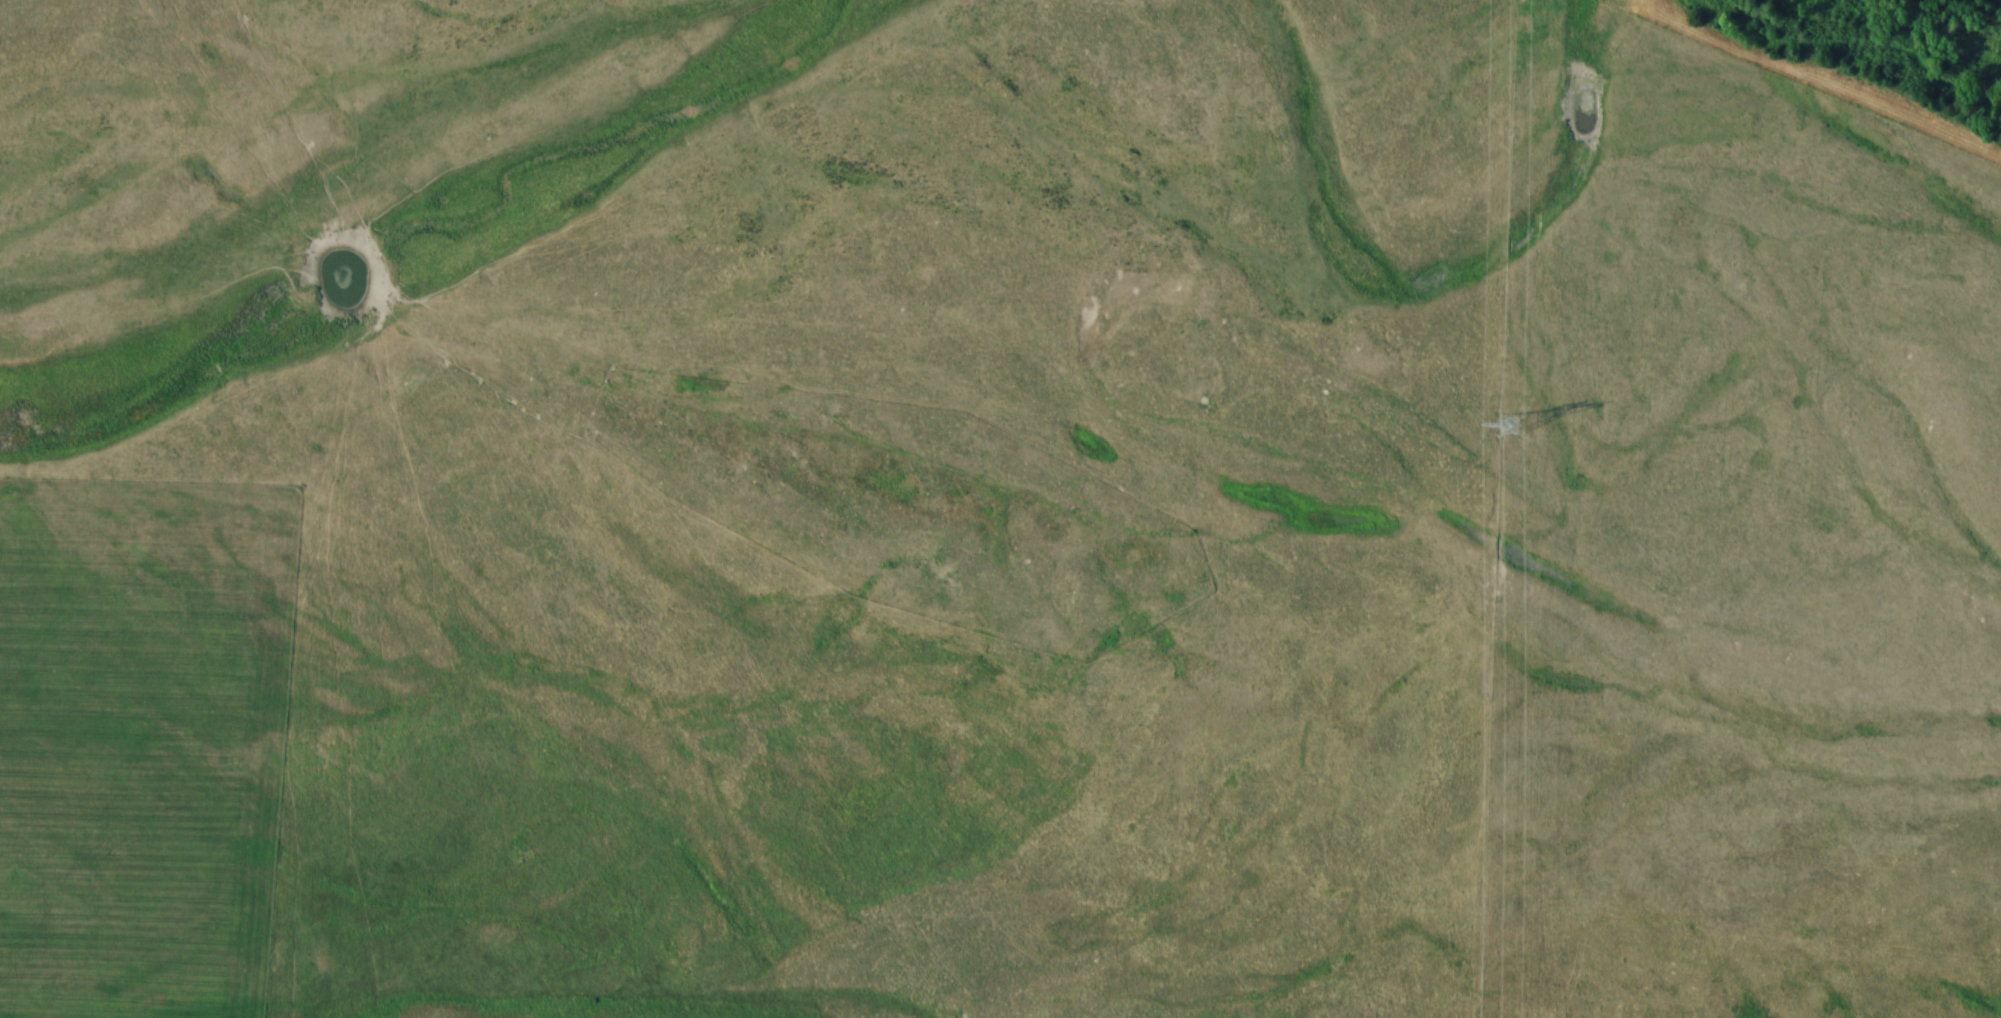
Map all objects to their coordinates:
power tower: (1514, 429)

